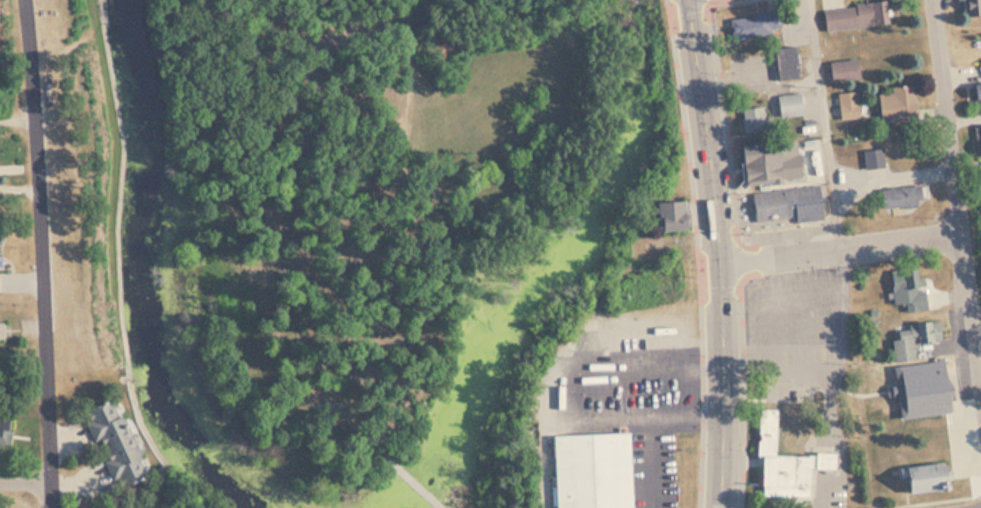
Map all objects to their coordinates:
building: (970, 6)
building: (854, 15)
building: (745, 27)
building: (784, 62)
building: (842, 69)
building: (976, 100)
building: (897, 103)
building: (788, 104)
building: (847, 109)
building: (752, 118)
road: (723, 120)
road: (822, 124)
building: (978, 138)
building: (872, 159)
building: (773, 161)
building: (867, 191)
road: (957, 200)
building: (904, 203)
building: (785, 205)
road: (379, 214)
building: (670, 216)
road: (822, 236)
road: (840, 247)
road: (43, 253)
road: (698, 253)
road: (718, 253)
building: (906, 291)
road: (804, 299)
building: (1, 330)
building: (912, 339)
parking lot: (804, 353)
road: (741, 385)
road: (573, 386)
building: (918, 388)
road: (858, 393)
road: (778, 398)
building: (5, 436)
building: (111, 443)
road: (651, 457)
building: (785, 464)
road: (399, 469)
building: (589, 470)
building: (923, 477)
road: (26, 479)
road: (944, 501)

